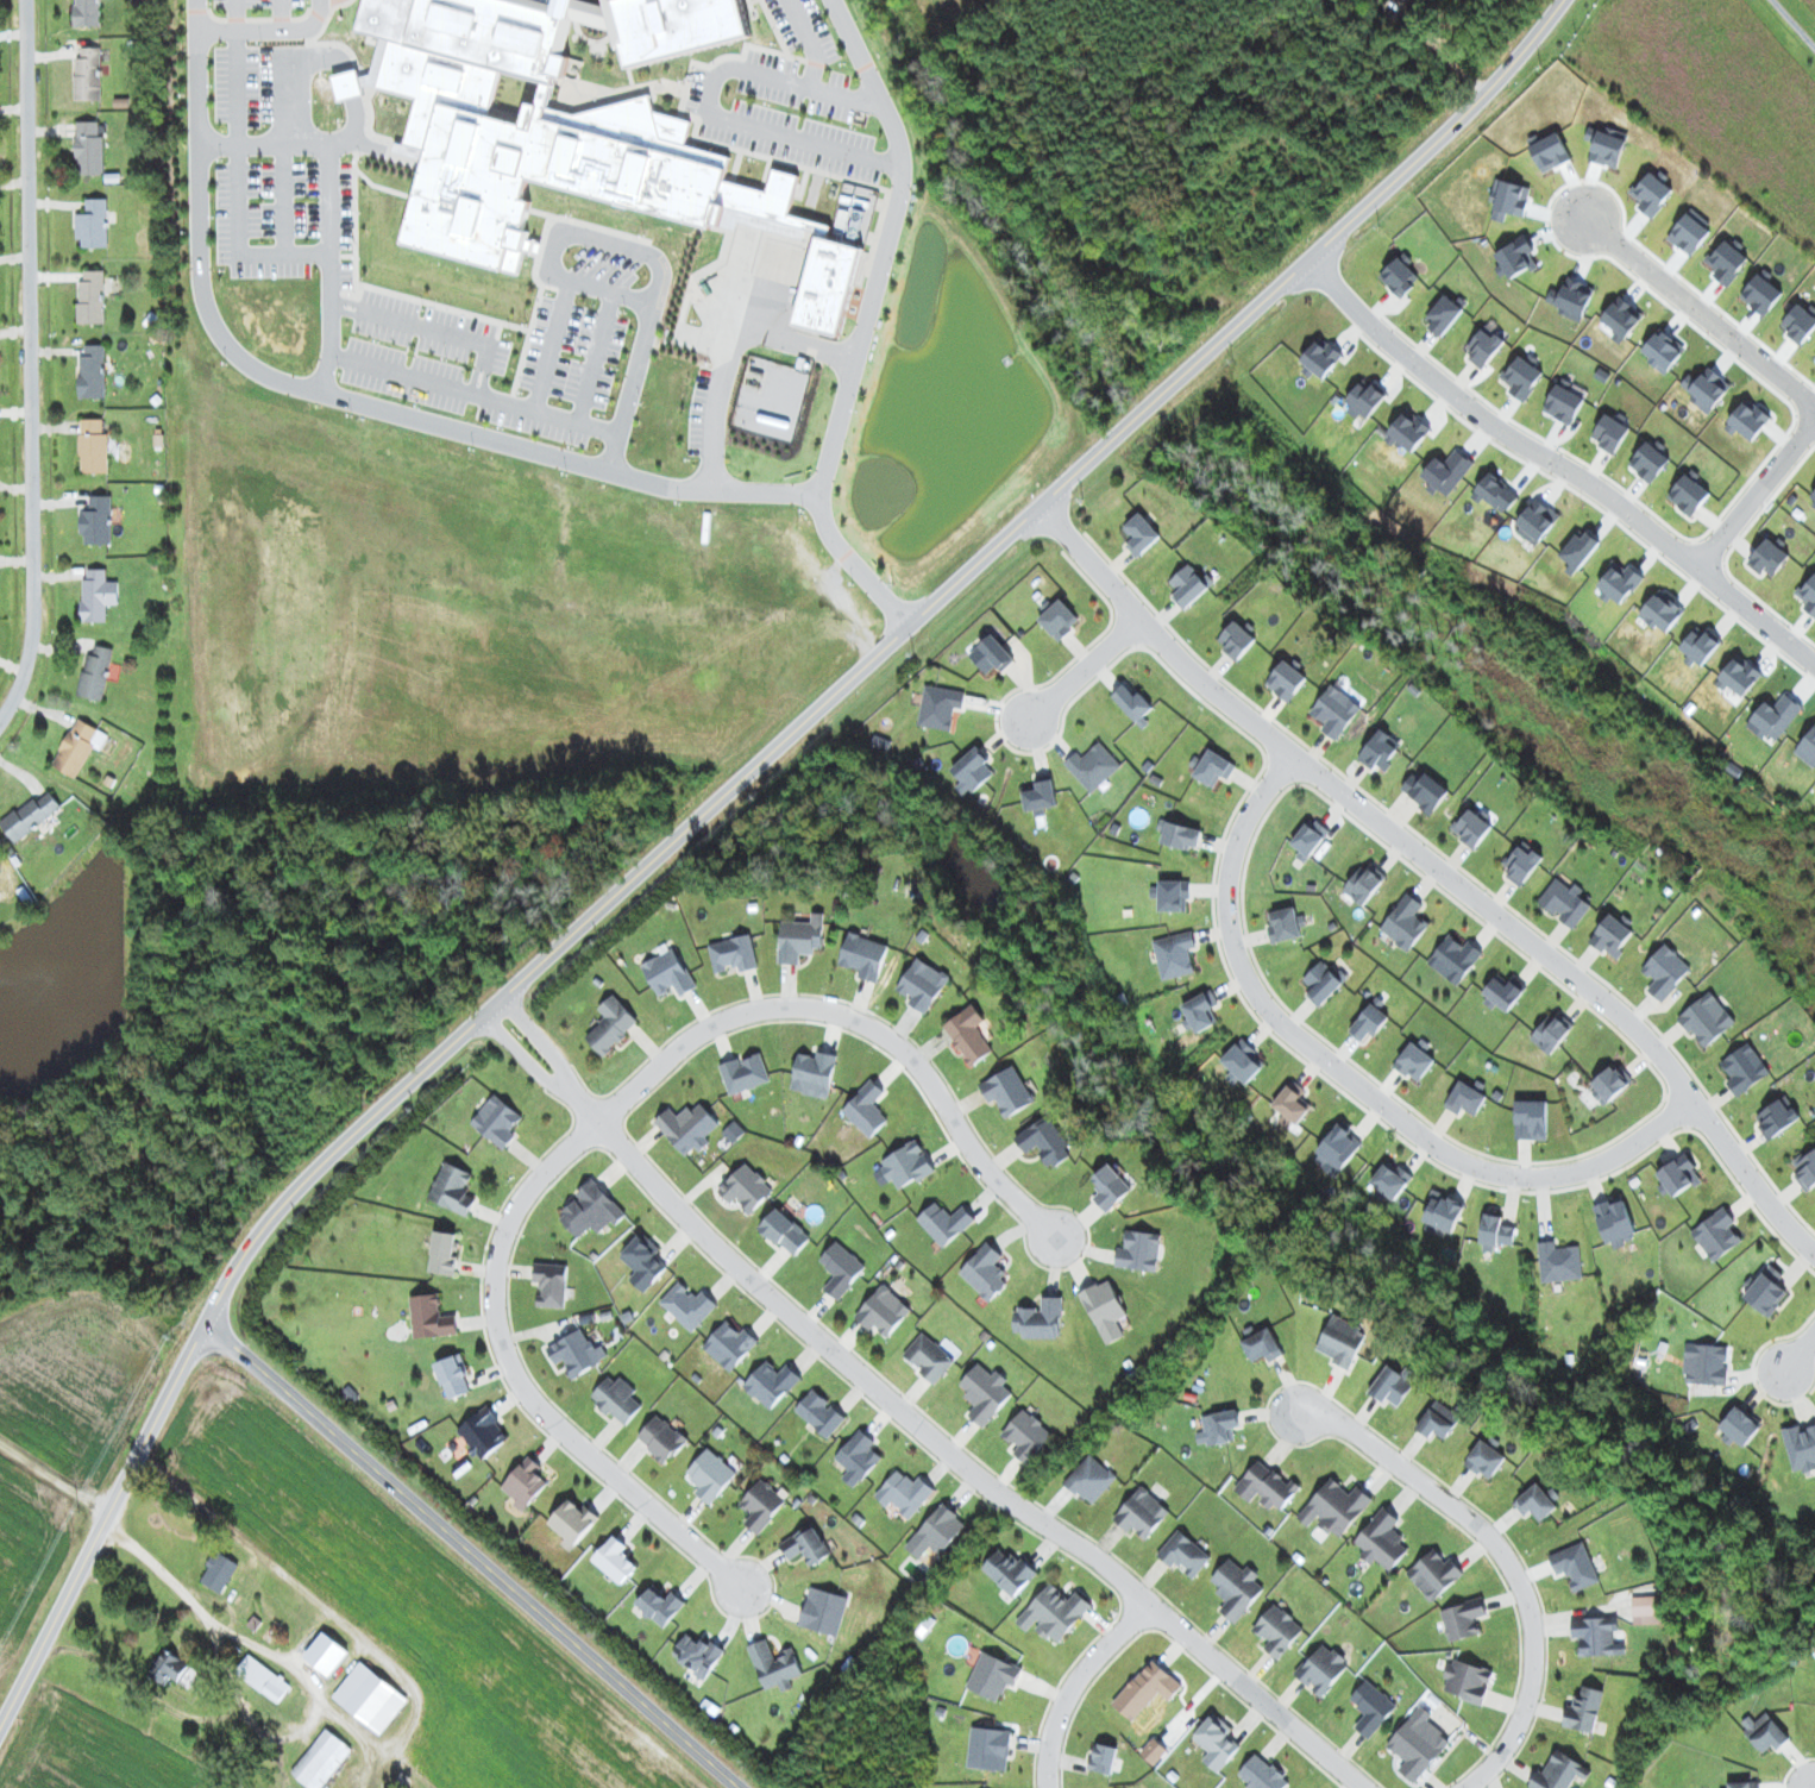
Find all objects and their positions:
parking lot: (255, 8)
building: (87, 12)
road: (237, 14)
road: (282, 15)
road: (1792, 24)
parking lot: (803, 27)
building: (684, 29)
road: (269, 31)
road: (805, 39)
building: (88, 75)
parking lot: (241, 84)
building: (346, 84)
road: (235, 87)
road: (706, 108)
parking lot: (790, 113)
road: (353, 120)
road: (308, 144)
building: (552, 145)
building: (89, 149)
road: (283, 199)
building: (853, 214)
parking lot: (289, 218)
building: (93, 224)
road: (239, 243)
road: (552, 256)
building: (1400, 276)
building: (92, 297)
road: (1701, 310)
building: (1445, 313)
road: (866, 318)
road: (433, 331)
parking lot: (511, 344)
road: (551, 346)
building: (1487, 346)
road: (740, 352)
road: (26, 353)
building: (1321, 357)
road: (595, 358)
road: (639, 365)
building: (92, 374)
building: (1521, 378)
road: (472, 395)
building: (771, 396)
road: (348, 397)
building: (1367, 397)
building: (1564, 403)
parking lot: (701, 412)
building: (1409, 429)
building: (1612, 431)
building: (93, 446)
building: (1651, 460)
road: (1557, 462)
building: (1447, 471)
building: (1497, 491)
building: (1689, 493)
road: (1757, 493)
building: (1538, 519)
building: (96, 520)
building: (1139, 535)
building: (1578, 548)
building: (1770, 557)
building: (1620, 581)
building: (1188, 585)
building: (1809, 594)
building: (96, 595)
building: (1663, 610)
building: (1059, 619)
building: (1238, 638)
building: (1700, 645)
building: (991, 654)
road: (1082, 669)
building: (95, 675)
building: (1740, 675)
building: (1287, 679)
building: (1132, 702)
building: (940, 707)
building: (1334, 711)
building: (1776, 715)
building: (78, 746)
building: (1380, 749)
building: (1093, 765)
building: (1213, 767)
building: (972, 770)
building: (1428, 792)
building: (1041, 795)
road: (703, 808)
building: (30, 815)
building: (1472, 827)
building: (1181, 835)
building: (1310, 836)
building: (1522, 864)
road: (1439, 868)
building: (1365, 883)
building: (1173, 895)
building: (1565, 902)
building: (1405, 922)
building: (1286, 923)
building: (1612, 934)
building: (800, 939)
building: (733, 954)
building: (1174, 954)
building: (863, 955)
building: (1455, 958)
building: (1665, 971)
building: (668, 973)
building: (1323, 981)
building: (923, 984)
building: (1505, 991)
building: (1201, 1010)
building: (1707, 1018)
road: (855, 1024)
building: (611, 1025)
building: (1555, 1033)
building: (968, 1034)
building: (1417, 1058)
building: (1243, 1061)
building: (1744, 1068)
building: (745, 1073)
building: (814, 1073)
road: (1358, 1081)
building: (1612, 1081)
building: (1007, 1091)
building: (1468, 1096)
building: (1292, 1102)
building: (867, 1109)
building: (1779, 1116)
building: (1531, 1119)
building: (497, 1121)
building: (687, 1127)
building: (1044, 1141)
building: (1339, 1147)
building: (904, 1166)
building: (1678, 1175)
building: (1390, 1179)
building: (747, 1187)
building: (1110, 1187)
building: (453, 1188)
building: (590, 1209)
building: (1443, 1211)
building: (944, 1222)
building: (1615, 1222)
building: (785, 1231)
building: (1495, 1231)
building: (1716, 1235)
building: (1139, 1250)
building: (442, 1254)
building: (643, 1261)
building: (1559, 1261)
building: (841, 1269)
building: (985, 1272)
building: (551, 1284)
building: (1766, 1291)
building: (687, 1305)
building: (1105, 1310)
building: (884, 1311)
building: (431, 1317)
building: (1041, 1319)
building: (1342, 1341)
building: (729, 1344)
building: (1262, 1345)
building: (577, 1353)
building: (929, 1357)
road: (1801, 1357)
building: (1706, 1363)
building: (452, 1375)
road: (520, 1380)
building: (771, 1382)
building: (1392, 1386)
building: (985, 1393)
building: (616, 1399)
building: (819, 1412)
road: (906, 1416)
building: (1438, 1420)
building: (1740, 1425)
building: (1218, 1428)
building: (483, 1433)
building: (1026, 1435)
building: (661, 1438)
building: (1801, 1447)
building: (858, 1457)
building: (1486, 1458)
building: (710, 1475)
road: (54, 1479)
building: (1089, 1479)
building: (525, 1482)
building: (1267, 1486)
building: (904, 1493)
building: (1538, 1500)
building: (761, 1505)
building: (1336, 1507)
building: (1142, 1513)
building: (573, 1522)
building: (936, 1532)
building: (1382, 1539)
building: (806, 1545)
building: (1183, 1554)
road: (471, 1556)
road: (1506, 1558)
building: (615, 1560)
building: (1575, 1566)
building: (219, 1571)
building: (1009, 1571)
building: (1434, 1574)
building: (1236, 1588)
building: (660, 1605)
building: (1647, 1610)
building: (823, 1611)
building: (1054, 1612)
road: (343, 1617)
building: (1463, 1618)
building: (1277, 1630)
building: (1597, 1636)
building: (326, 1654)
building: (696, 1655)
building: (774, 1665)
building: (174, 1669)
building: (1321, 1669)
road: (299, 1671)
building: (993, 1675)
building: (263, 1677)
building: (1467, 1681)
road: (1075, 1686)
road: (144, 1689)
building: (1147, 1689)
building: (370, 1696)
building: (1371, 1707)
building: (1583, 1709)
building: (1764, 1731)
building: (1217, 1742)
building: (1418, 1744)
building: (990, 1748)
building: (1154, 1750)
building: (1104, 1758)
building: (321, 1759)
building: (1559, 1773)
building: (1262, 1774)
building: (1744, 1784)

